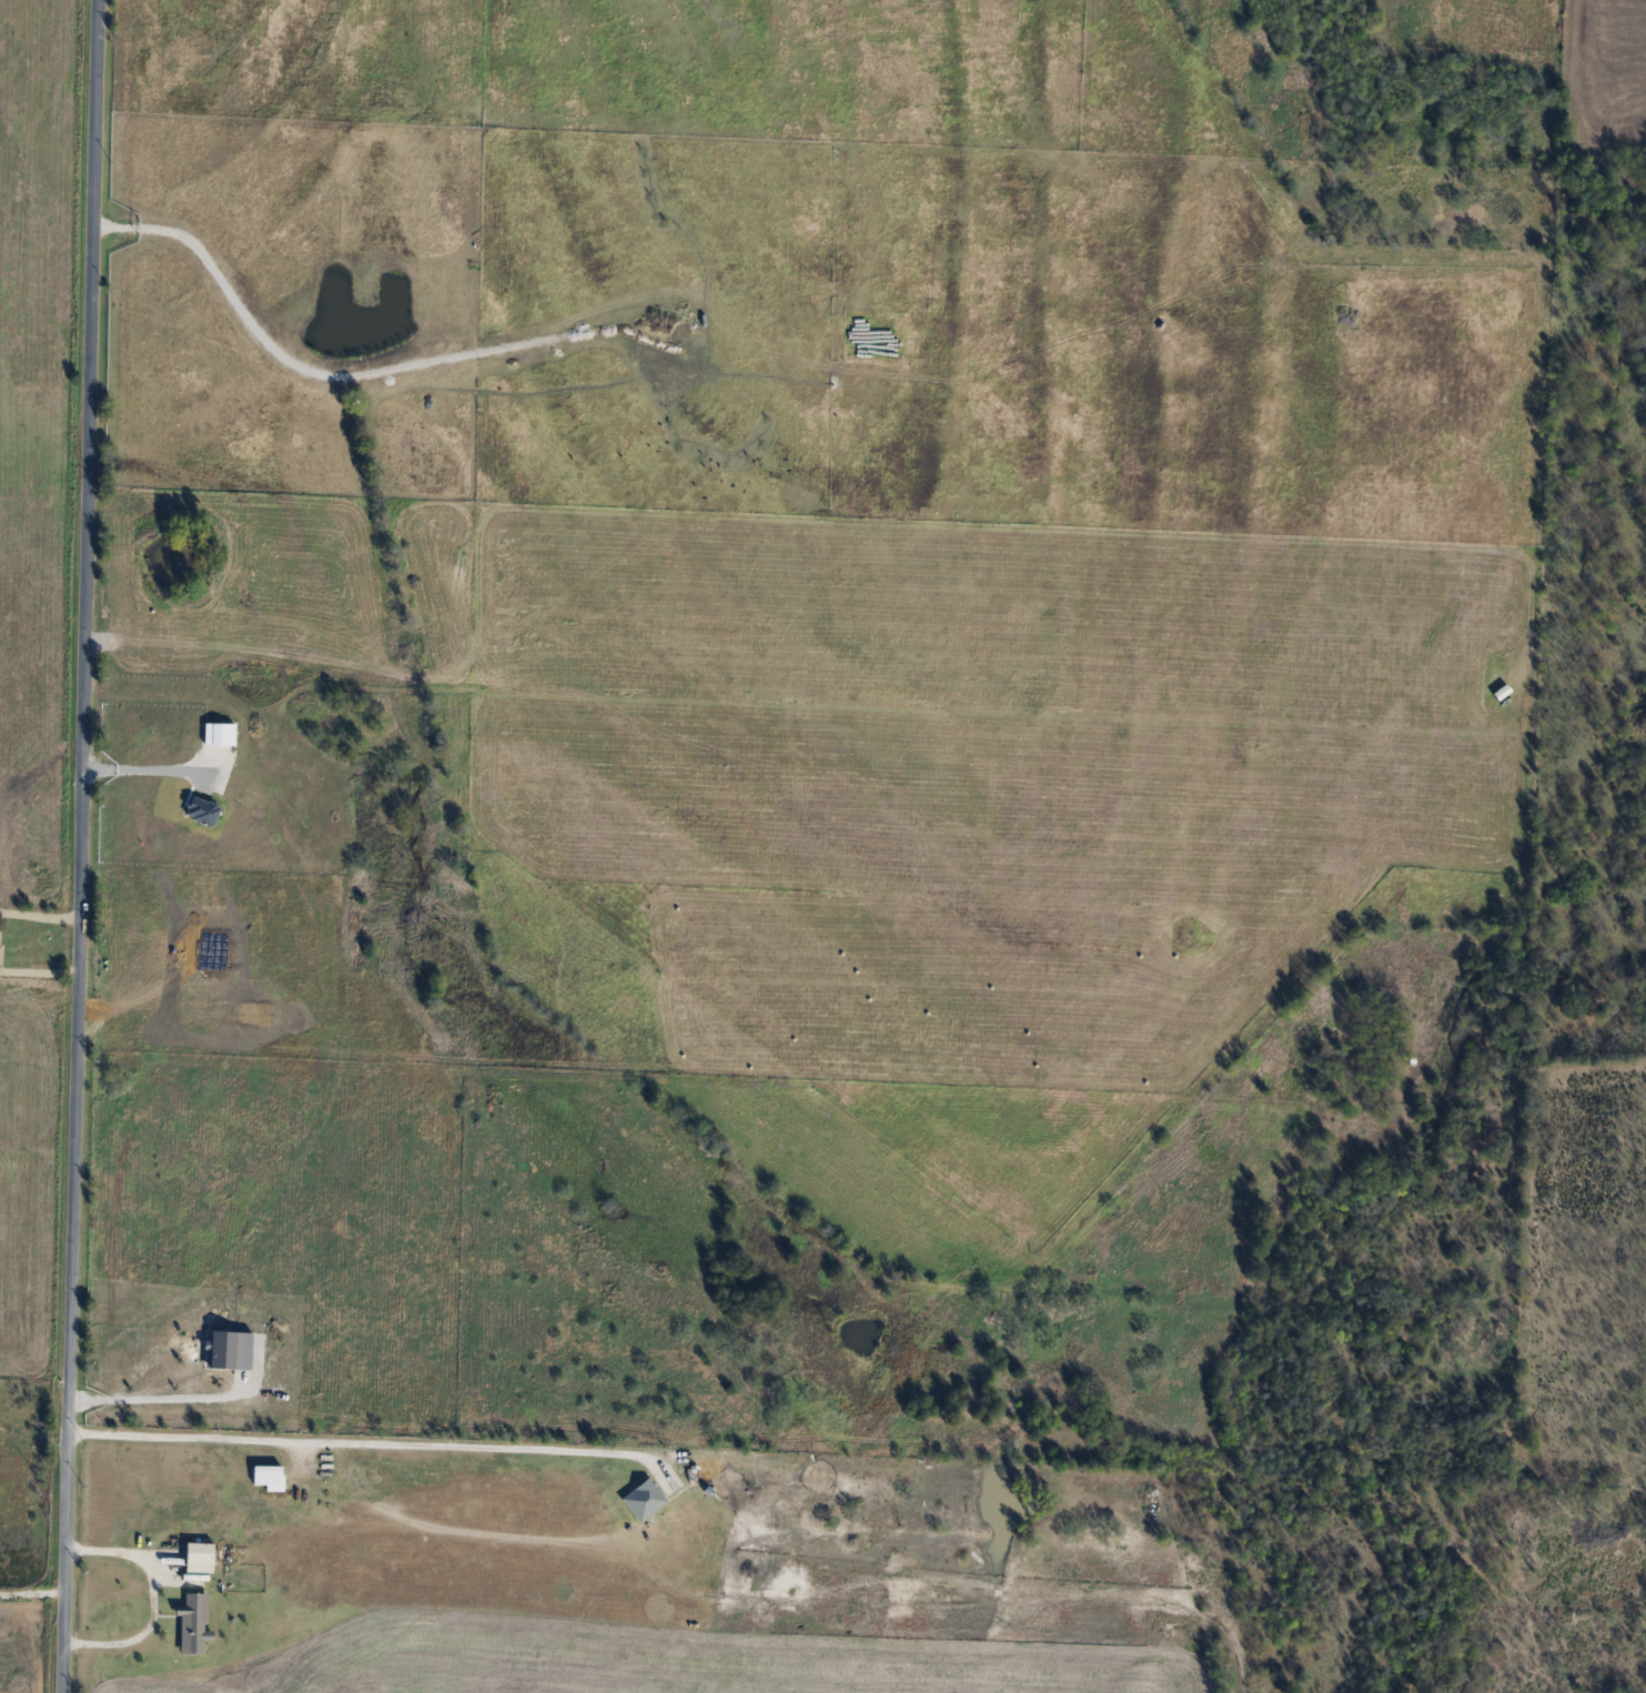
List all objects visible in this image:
road: (147, 774)
road: (80, 846)
road: (40, 917)
building: (0, 941)
road: (39, 975)
road: (350, 1443)
building: (266, 1477)
building: (643, 1499)
building: (198, 1556)
road: (32, 1594)
road: (152, 1598)
building: (192, 1623)

